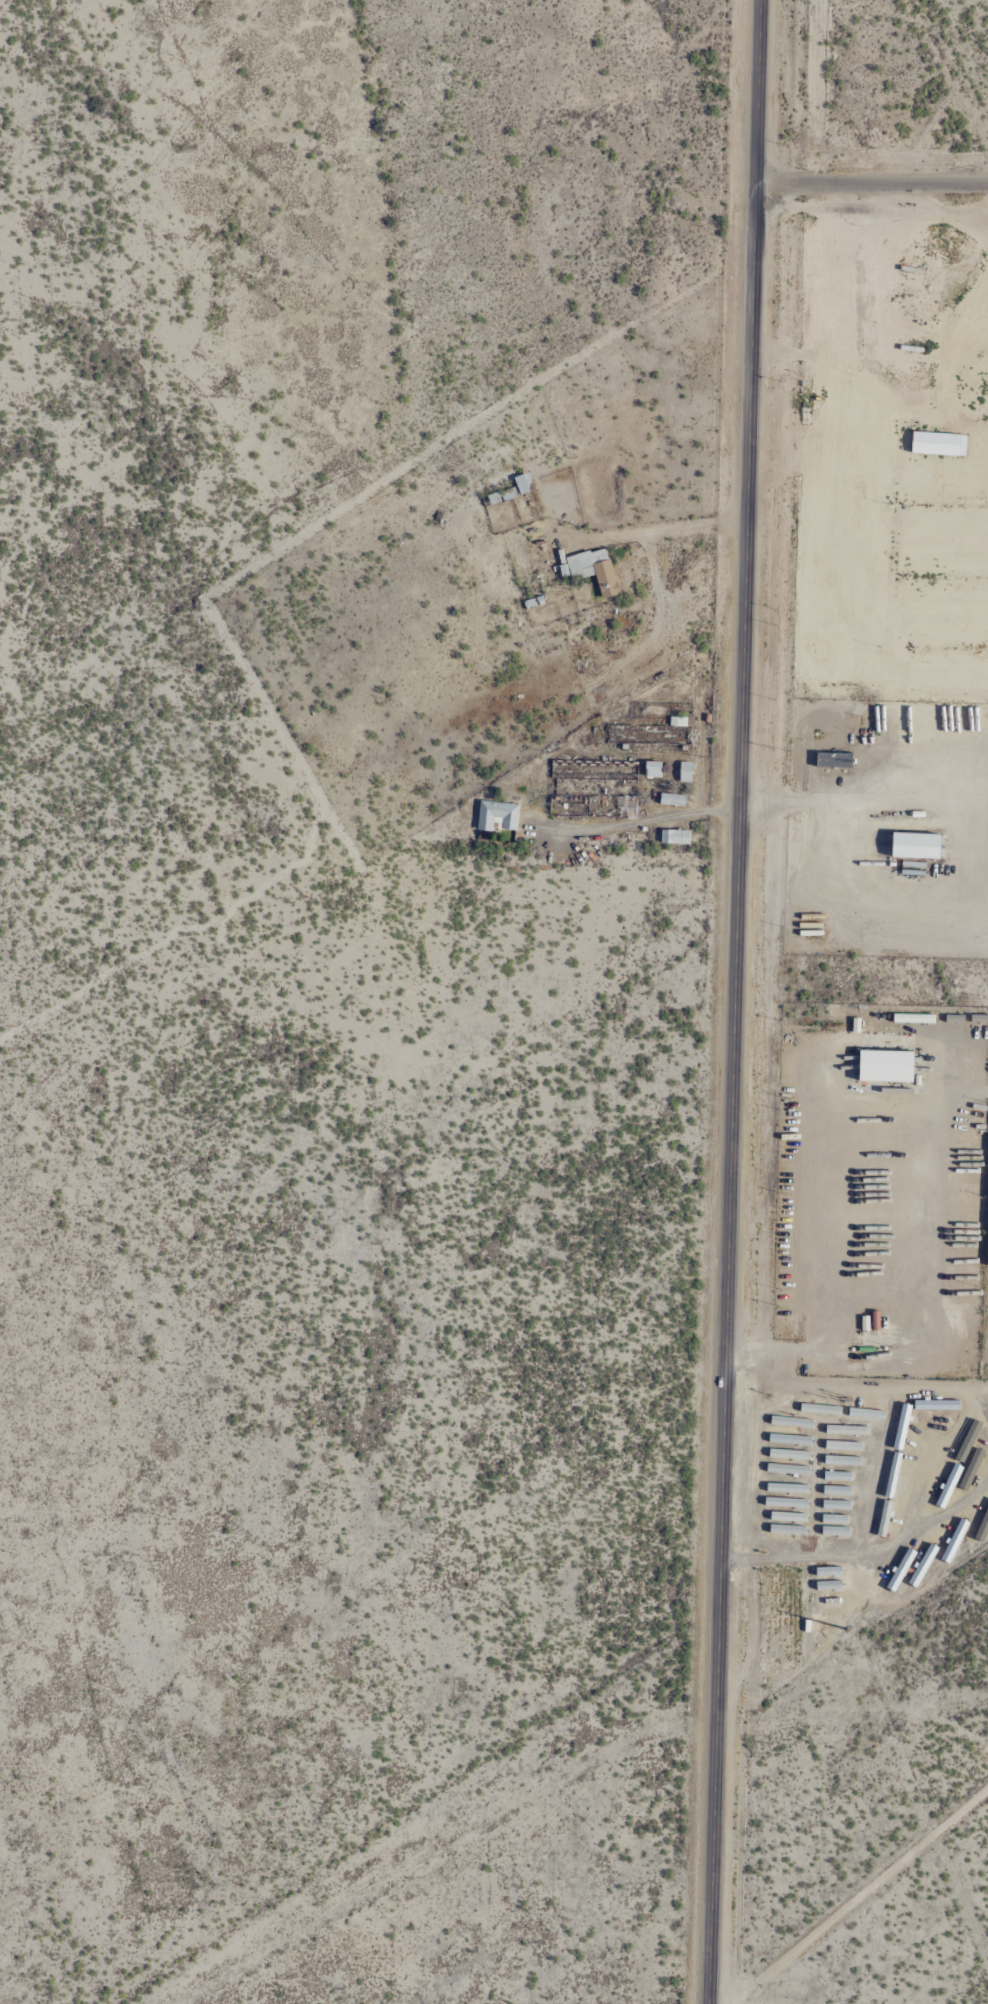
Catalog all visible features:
road: (870, 183)
building: (936, 444)
building: (521, 484)
building: (494, 498)
road: (662, 530)
building: (591, 570)
building: (533, 602)
building: (667, 727)
building: (832, 760)
building: (651, 770)
building: (684, 773)
building: (601, 776)
building: (671, 800)
road: (804, 806)
building: (626, 807)
building: (495, 816)
road: (643, 822)
building: (674, 837)
building: (912, 845)
road: (733, 1002)
building: (911, 1019)
building: (882, 1066)
building: (960, 1258)
building: (933, 1405)
building: (819, 1409)
building: (864, 1413)
building: (790, 1422)
building: (900, 1427)
building: (844, 1430)
building: (788, 1440)
building: (842, 1446)
building: (788, 1455)
building: (841, 1461)
building: (786, 1470)
building: (836, 1476)
building: (786, 1489)
building: (836, 1491)
building: (784, 1503)
building: (835, 1505)
building: (986, 1513)
building: (786, 1517)
building: (833, 1519)
building: (882, 1519)
building: (786, 1530)
building: (834, 1531)
building: (981, 1534)
building: (952, 1541)
road: (864, 1552)
building: (920, 1566)
building: (898, 1570)
building: (826, 1572)
building: (827, 1586)

